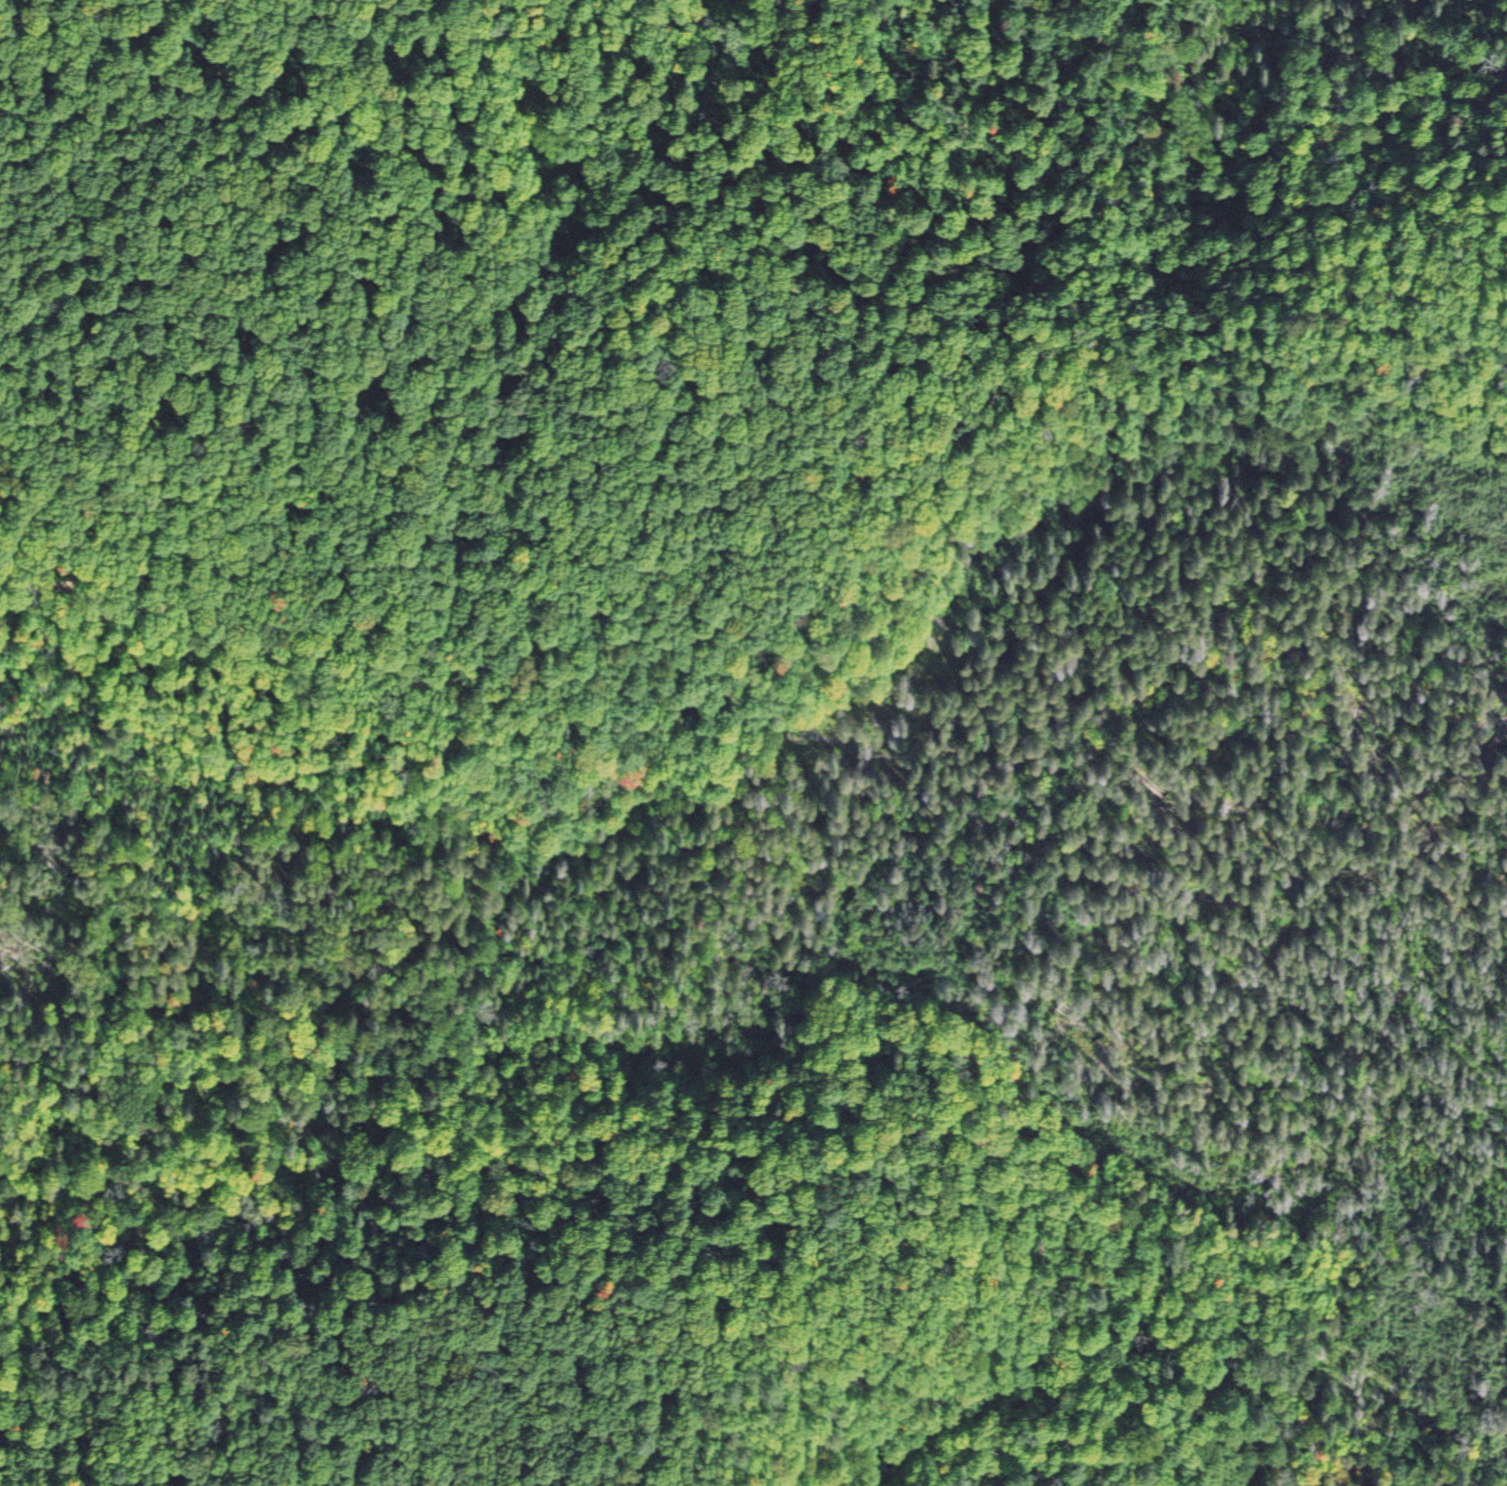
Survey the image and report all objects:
road: (749, 508)

